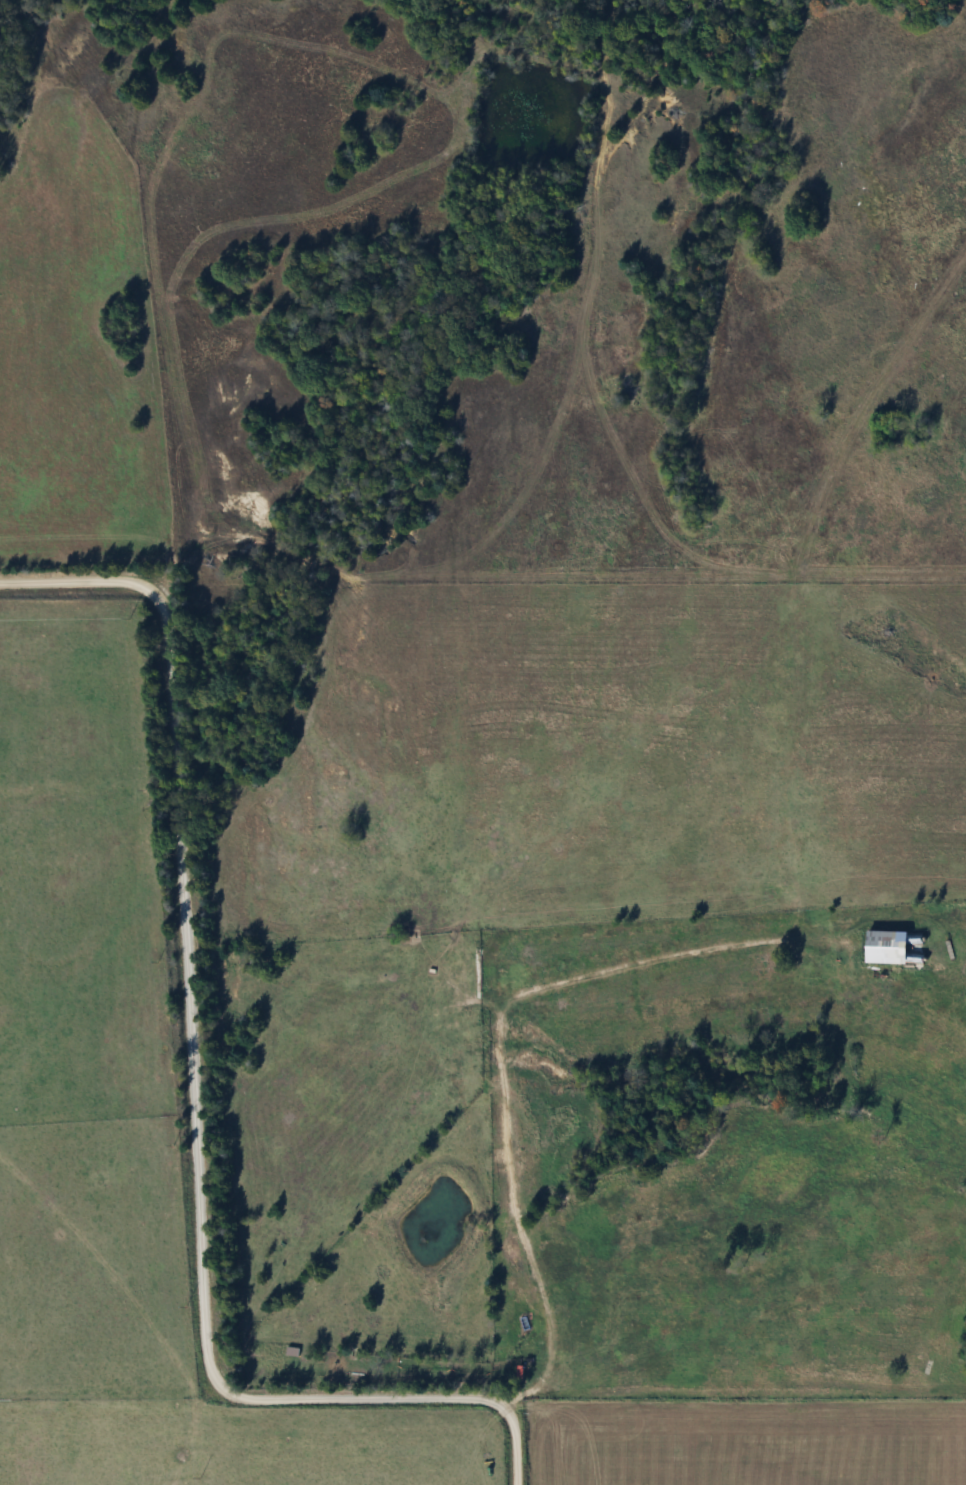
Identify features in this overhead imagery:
building: (895, 948)
road: (197, 1096)

